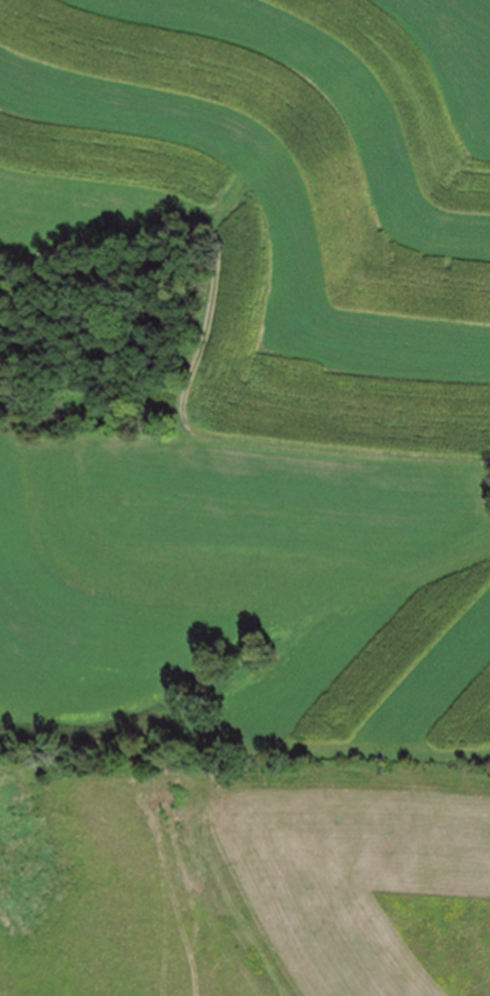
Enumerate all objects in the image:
road: (201, 337)

